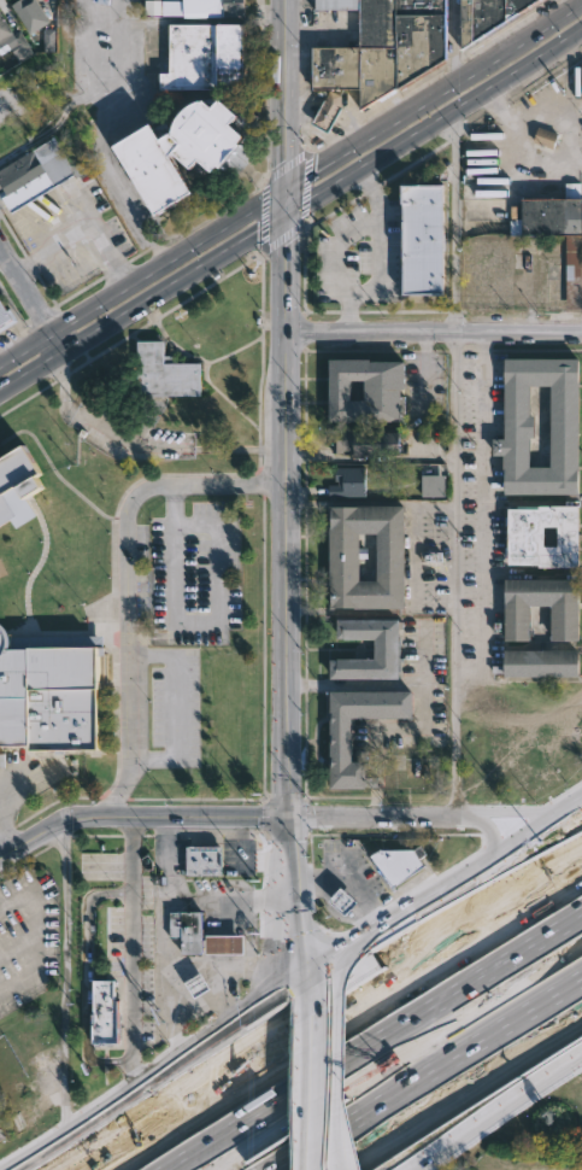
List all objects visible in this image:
building: (211, 7)
building: (29, 13)
building: (486, 16)
building: (10, 36)
road: (452, 40)
building: (371, 51)
building: (202, 54)
road: (92, 62)
road: (119, 63)
road: (281, 110)
road: (433, 122)
building: (80, 131)
building: (545, 138)
building: (174, 148)
road: (517, 151)
building: (37, 171)
road: (289, 183)
traffic signals: (281, 189)
road: (125, 195)
traffic signals: (282, 220)
road: (453, 223)
road: (82, 229)
building: (551, 232)
building: (421, 235)
road: (339, 251)
road: (375, 258)
road: (35, 294)
road: (140, 305)
building: (2, 314)
road: (431, 332)
building: (163, 372)
park: (172, 384)
building: (363, 388)
building: (517, 425)
building: (365, 439)
road: (368, 457)
building: (348, 481)
building: (14, 482)
building: (431, 485)
road: (369, 503)
building: (541, 536)
building: (341, 556)
road: (129, 583)
road: (283, 608)
road: (198, 620)
building: (563, 624)
building: (384, 649)
road: (424, 656)
building: (537, 662)
road: (469, 677)
road: (371, 683)
building: (49, 697)
road: (175, 706)
building: (357, 729)
road: (453, 748)
road: (265, 819)
road: (167, 856)
building: (201, 860)
building: (394, 864)
road: (563, 871)
road: (345, 882)
road: (433, 897)
building: (343, 902)
gas station: (343, 902)
road: (34, 920)
road: (164, 923)
building: (186, 930)
road: (246, 930)
parking lot: (25, 937)
road: (314, 942)
building: (222, 946)
road: (448, 946)
road: (129, 954)
road: (343, 963)
road: (223, 966)
road: (69, 976)
building: (198, 985)
traffic signals: (283, 998)
road: (207, 1000)
road: (229, 1011)
road: (289, 1011)
building: (104, 1013)
road: (288, 1014)
road: (276, 1019)
road: (355, 1030)
road: (294, 1041)
road: (500, 1058)
road: (334, 1072)
road: (143, 1084)
road: (296, 1098)
road: (271, 1106)
road: (489, 1112)
road: (160, 1123)
building: (1, 1135)
road: (371, 1140)
road: (337, 1166)

